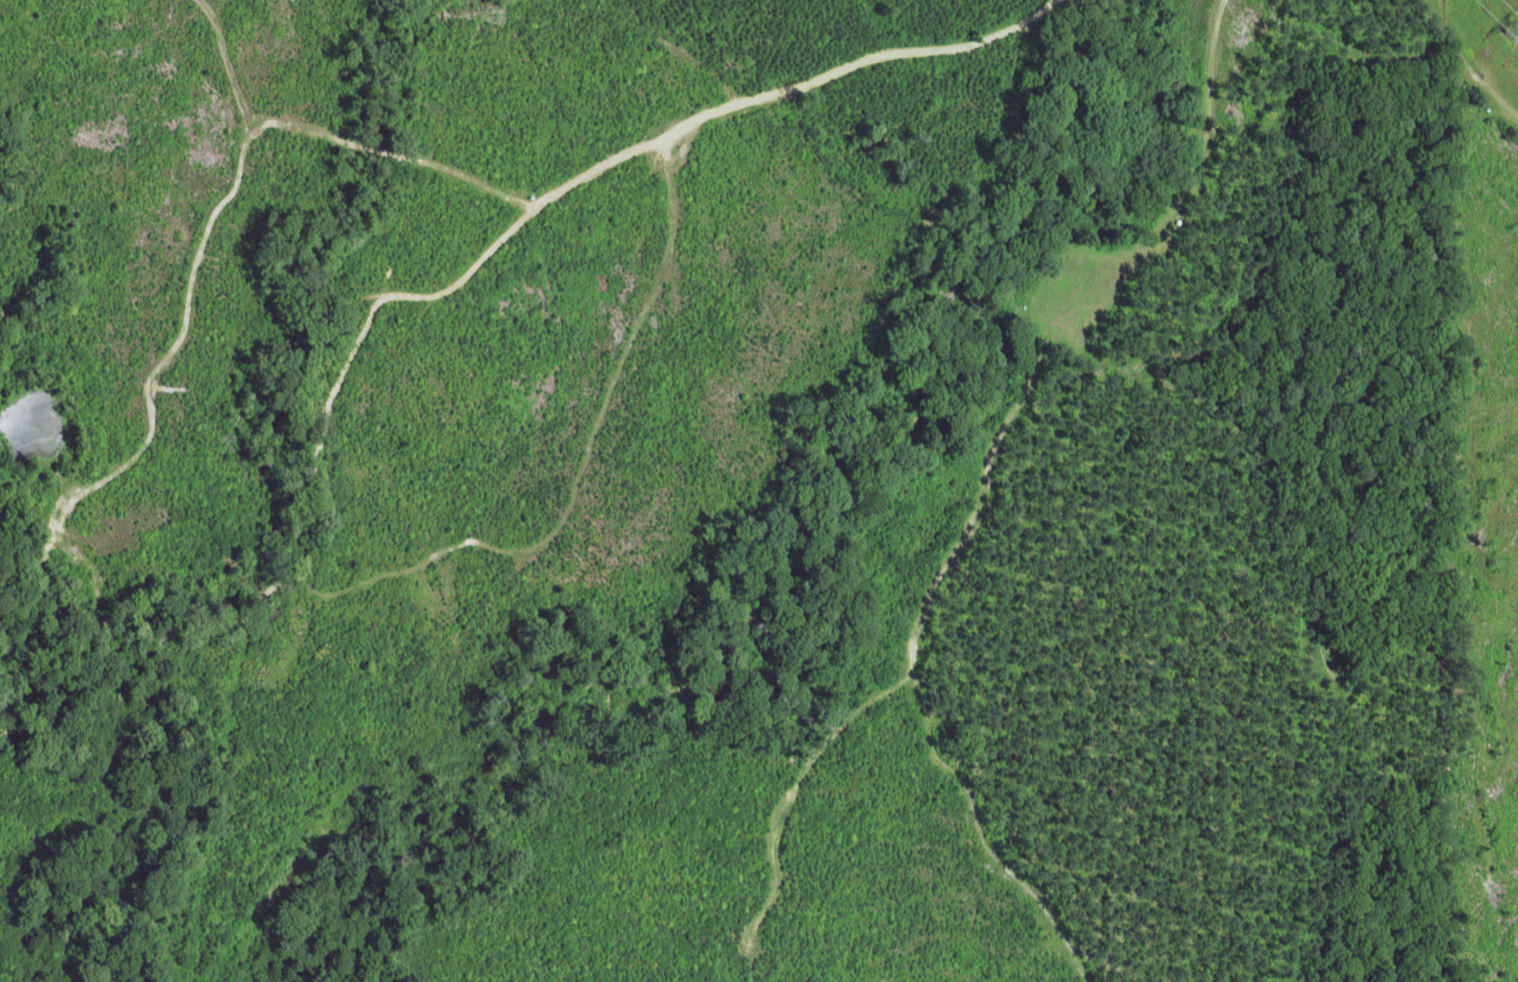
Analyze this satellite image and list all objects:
power tower: (1514, 36)

